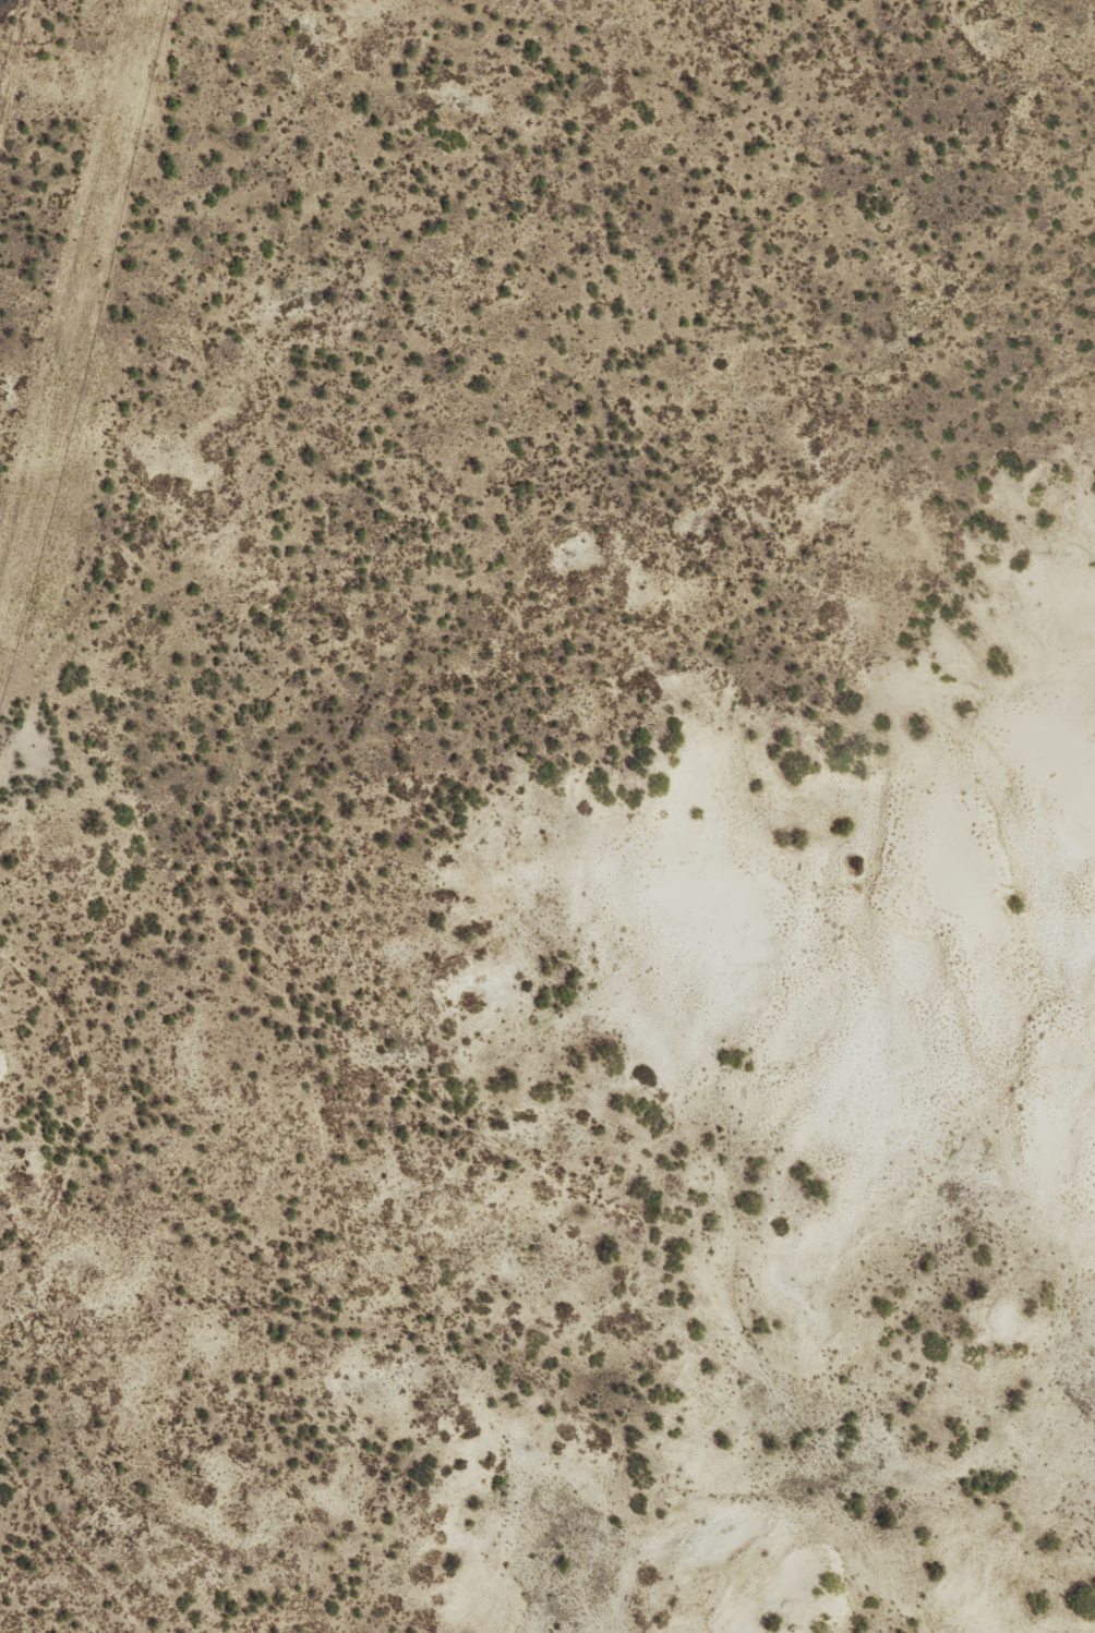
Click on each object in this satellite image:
road: (33, 676)

